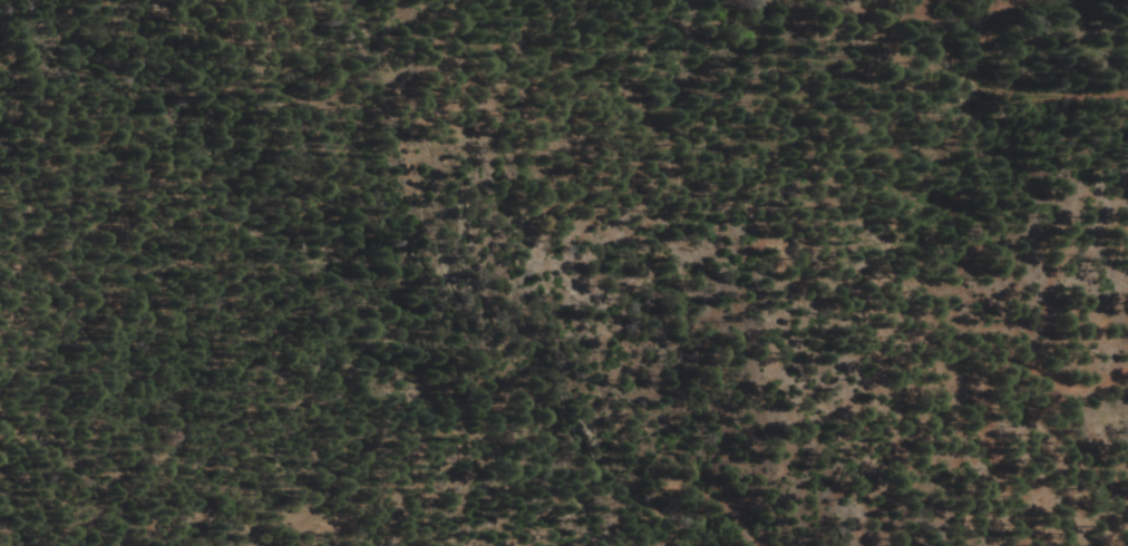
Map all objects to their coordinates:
road: (922, 6)
road: (838, 10)
road: (1001, 88)
road: (138, 255)
road: (983, 379)
road: (712, 493)
road: (649, 518)

